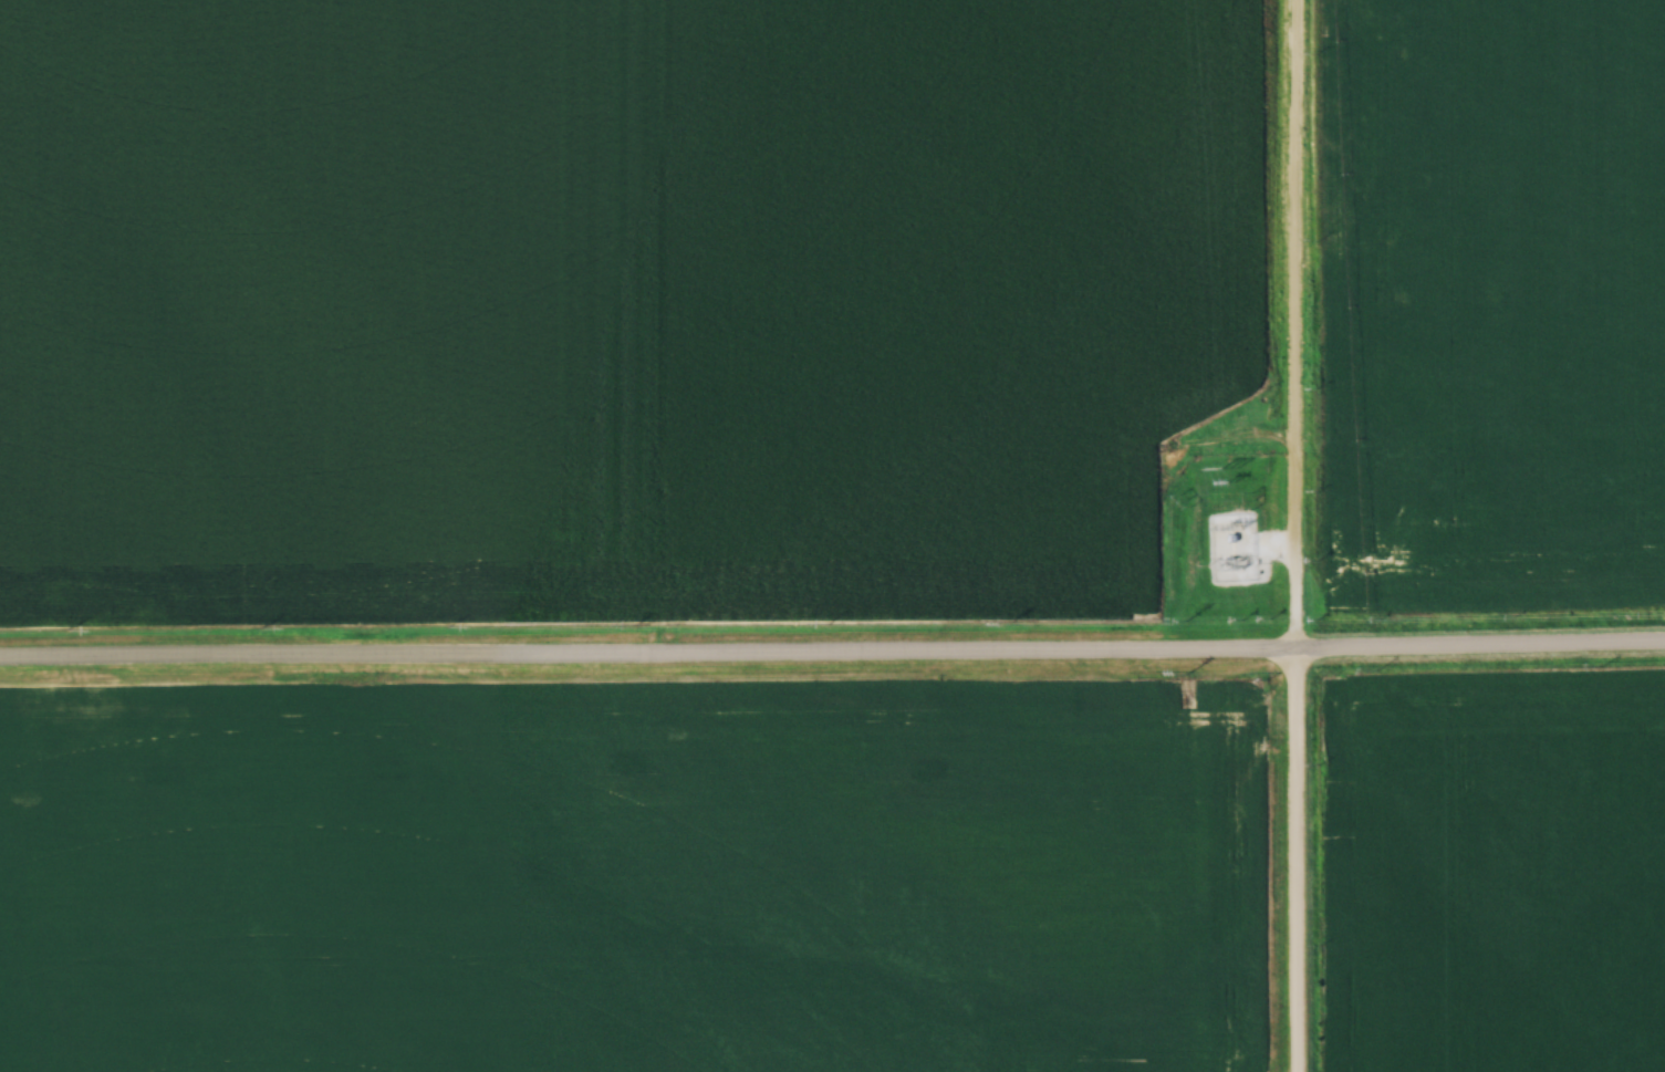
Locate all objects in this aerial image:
road: (1295, 326)
power tower: (1231, 462)
road: (1274, 544)
power substation: (1232, 547)
road: (832, 660)
road: (1297, 863)

